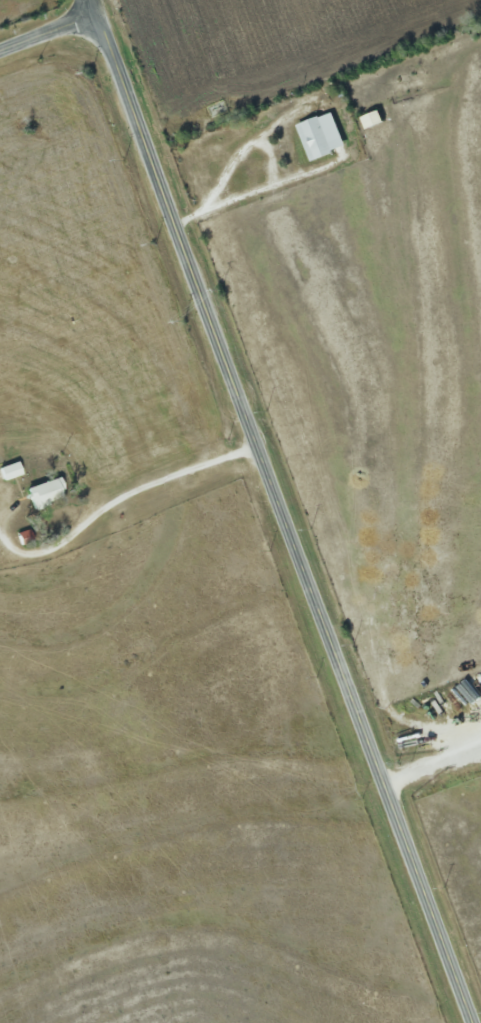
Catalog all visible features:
road: (45, 25)
building: (372, 120)
building: (321, 137)
building: (9, 472)
building: (43, 494)
road: (279, 511)
road: (432, 768)

